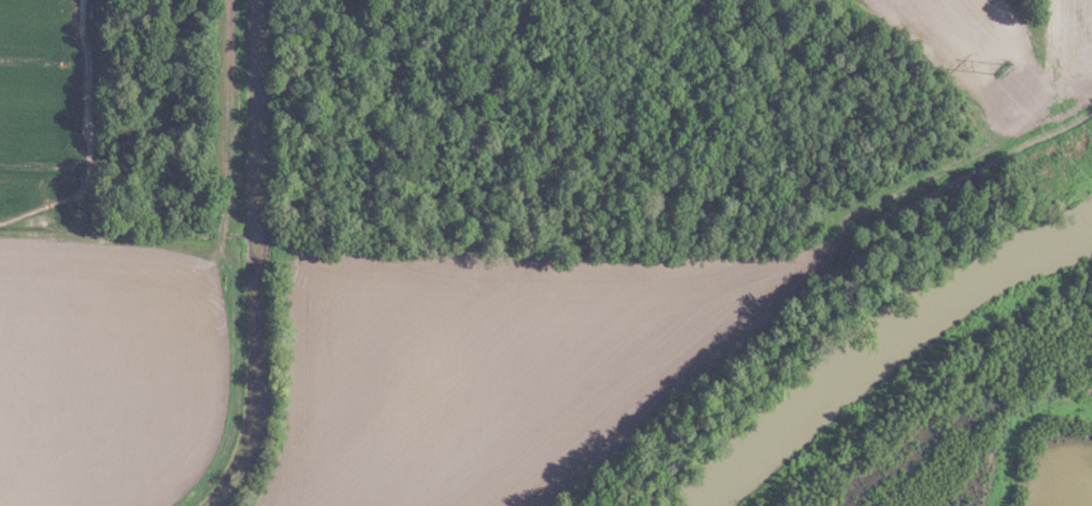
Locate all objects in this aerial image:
road: (1047, 48)
power tower: (998, 66)
road: (225, 238)

